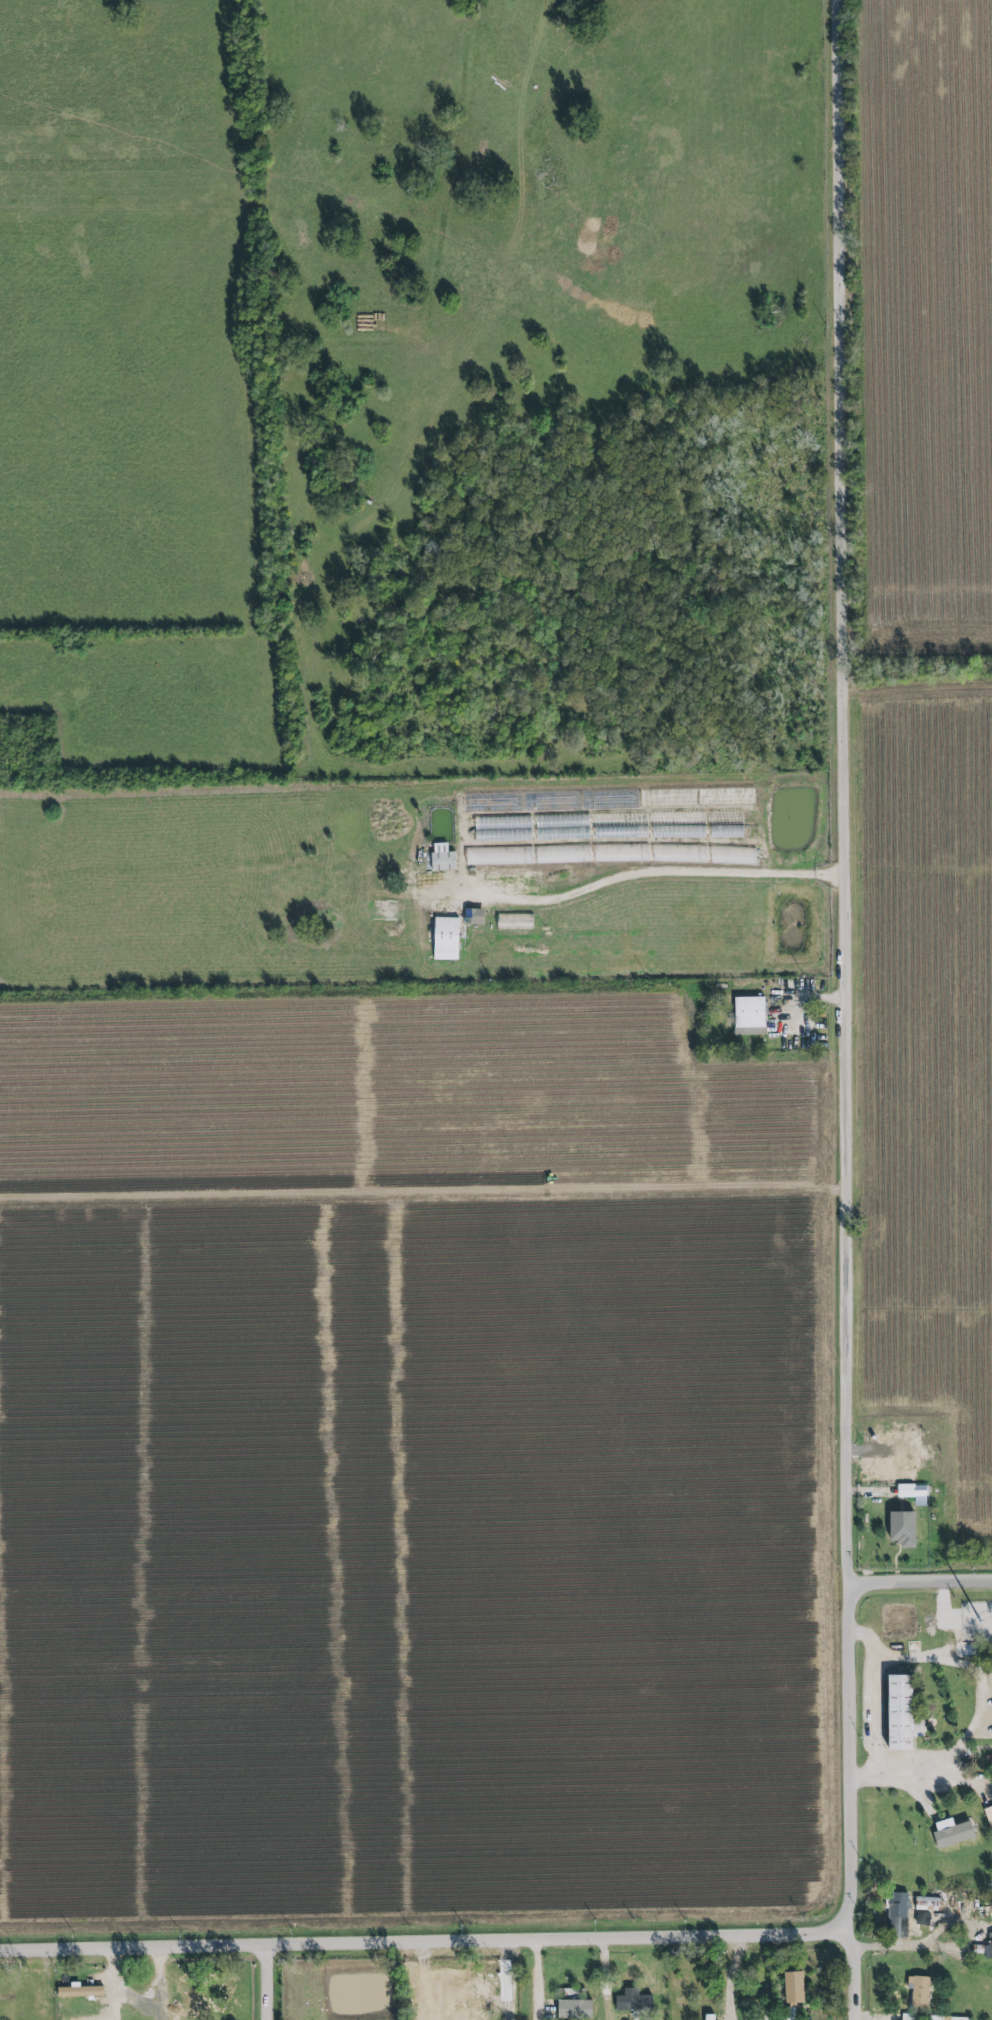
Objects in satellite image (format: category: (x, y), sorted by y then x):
building: (472, 856)
building: (440, 858)
road: (666, 873)
building: (473, 917)
building: (444, 939)
road: (852, 1010)
building: (748, 1016)
building: (886, 1461)
building: (913, 1493)
building: (902, 1526)
road: (922, 1582)
road: (871, 1702)
building: (898, 1714)
road: (978, 1717)
building: (988, 1815)
building: (952, 1831)
building: (924, 1909)
building: (897, 1915)
road: (921, 1936)
road: (428, 1938)
building: (988, 1948)
road: (731, 1976)
road: (509, 1978)
road: (536, 1978)
road: (274, 1980)
road: (114, 1983)
building: (792, 1988)
building: (78, 1991)
building: (919, 1992)
building: (632, 2001)
road: (437, 2005)
building: (572, 2009)
building: (709, 2016)

